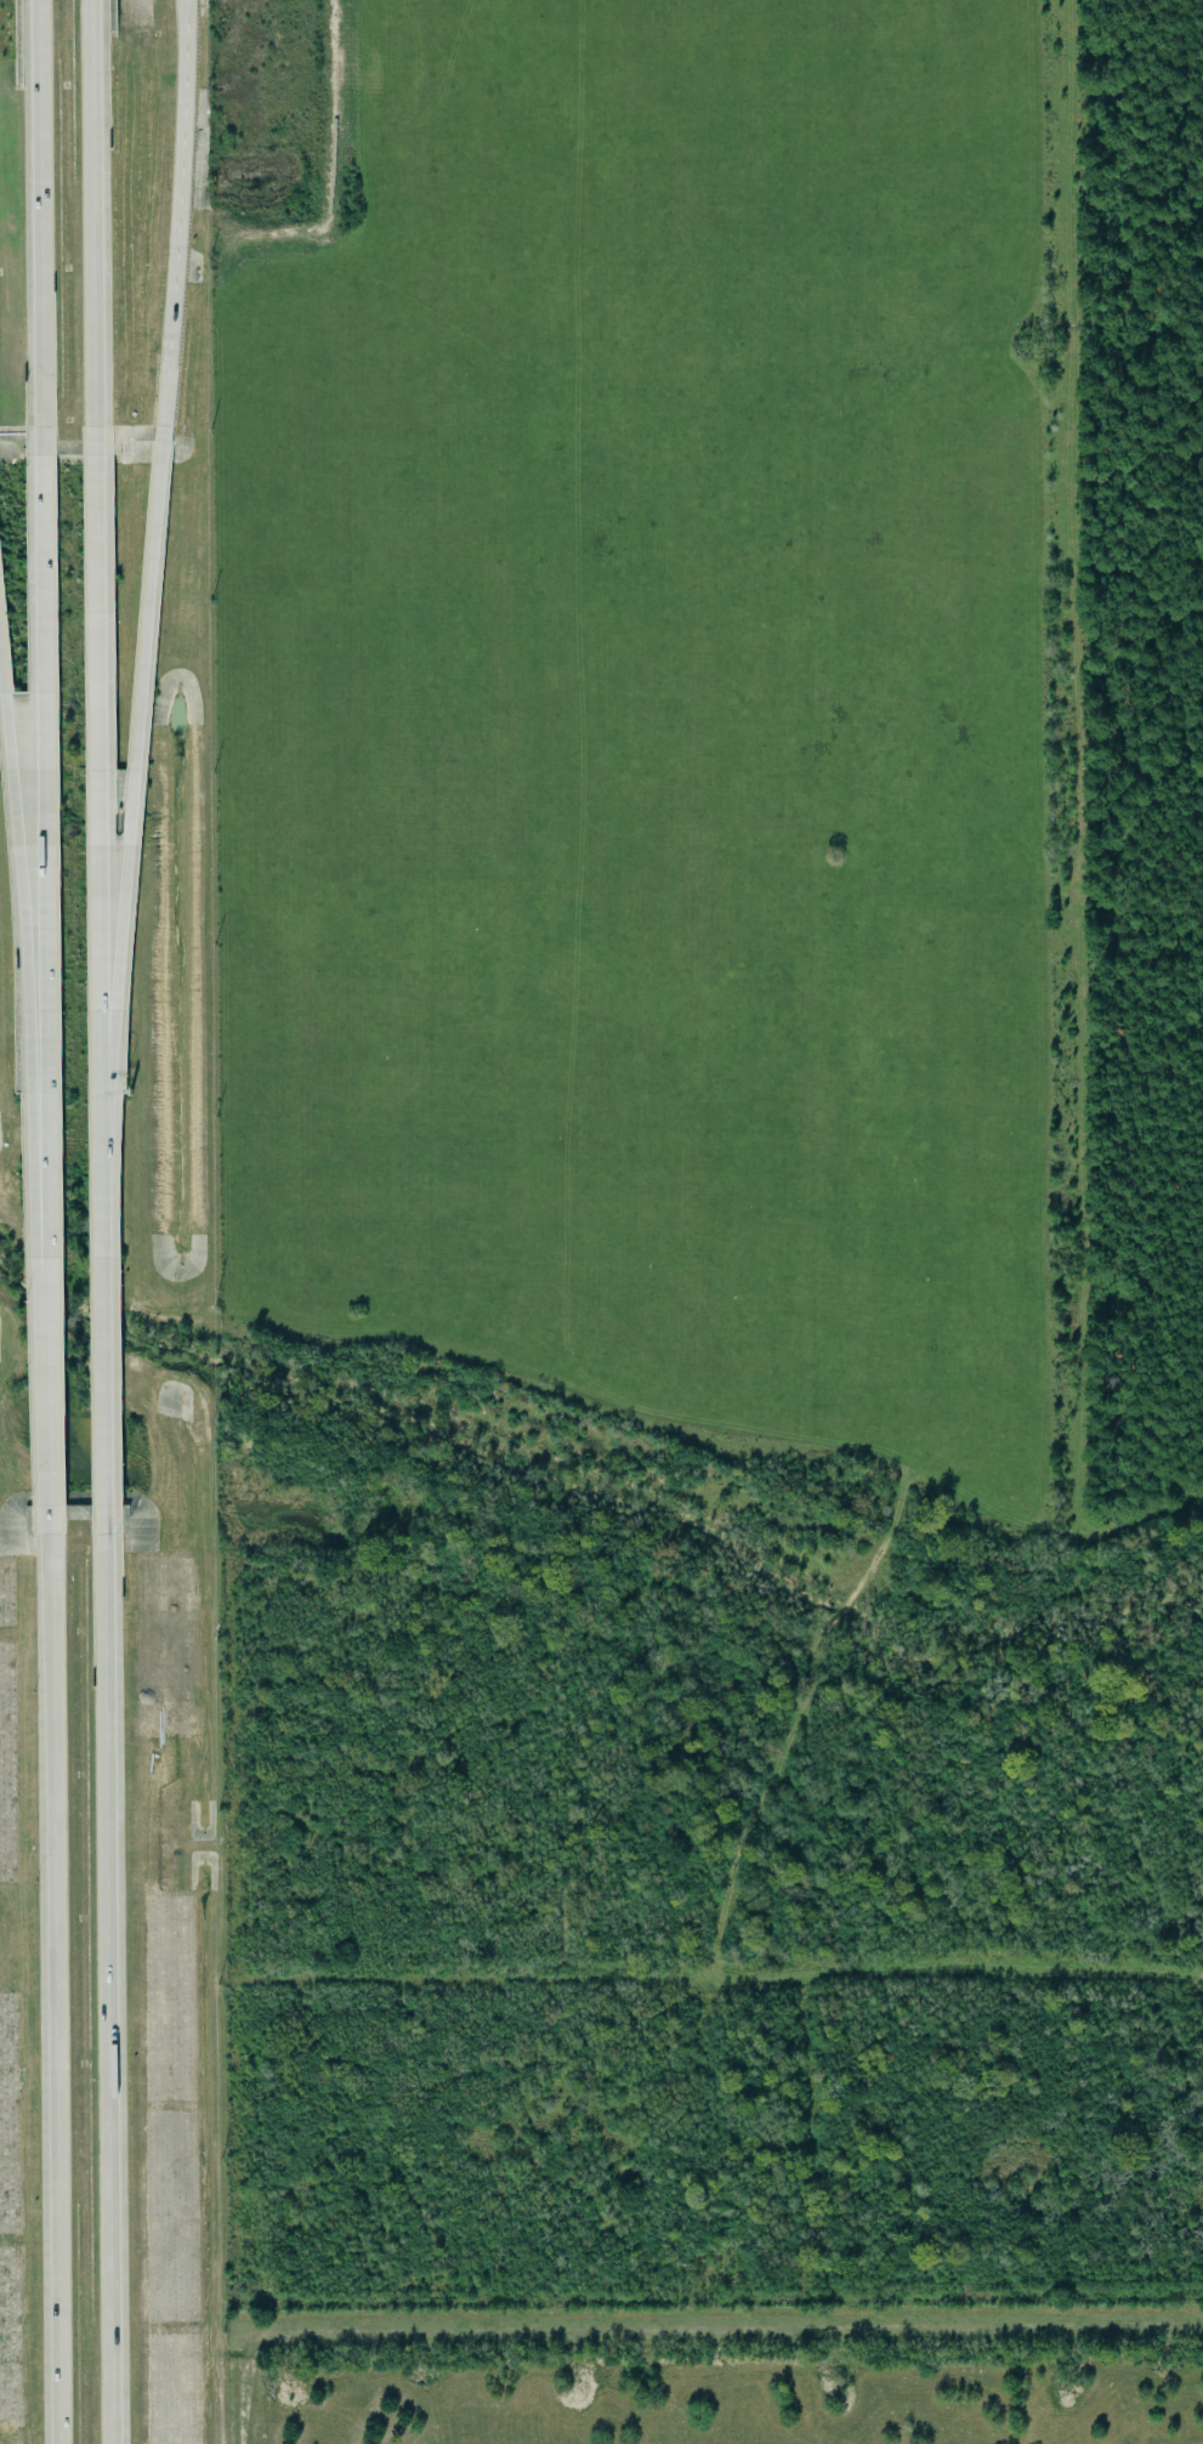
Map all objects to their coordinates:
road: (39, 212)
road: (96, 221)
road: (177, 223)
road: (97, 708)
road: (135, 711)
road: (46, 979)
road: (24, 1008)
road: (101, 1241)
road: (108, 1975)
road: (56, 1989)

